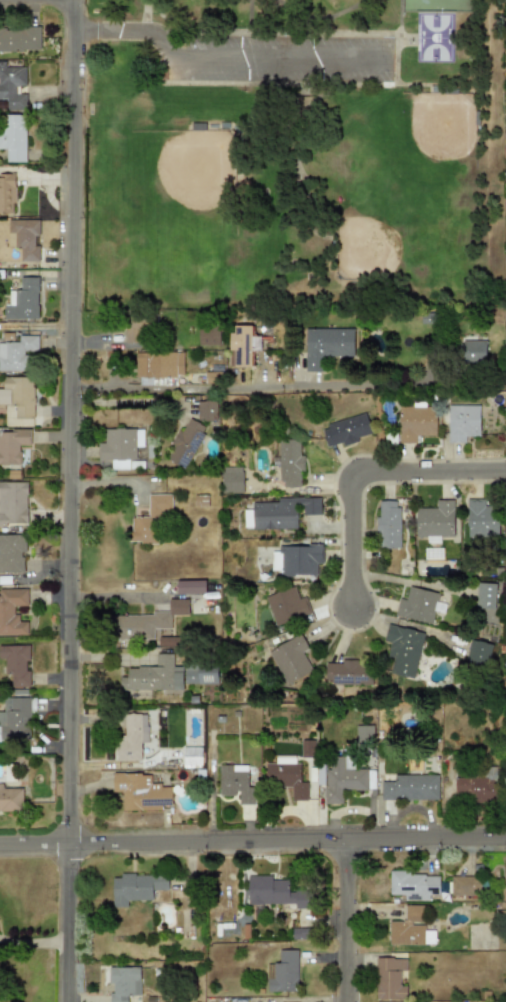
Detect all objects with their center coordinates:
road: (292, 5)
road: (145, 10)
road: (321, 18)
road: (271, 35)
building: (19, 39)
road: (218, 56)
road: (400, 75)
building: (12, 86)
road: (271, 86)
building: (13, 137)
park: (295, 160)
building: (6, 193)
building: (24, 238)
building: (23, 300)
building: (132, 326)
building: (208, 335)
building: (243, 344)
building: (326, 346)
building: (473, 351)
building: (16, 353)
building: (159, 364)
road: (234, 387)
building: (18, 395)
building: (205, 410)
building: (462, 422)
building: (415, 423)
building: (344, 430)
building: (185, 443)
building: (12, 446)
building: (120, 446)
building: (288, 463)
road: (362, 478)
building: (232, 480)
road: (74, 500)
building: (200, 500)
building: (13, 503)
building: (279, 512)
building: (480, 519)
building: (150, 520)
building: (435, 520)
building: (387, 524)
building: (12, 553)
building: (295, 560)
building: (191, 586)
building: (485, 596)
building: (286, 605)
building: (419, 605)
building: (12, 611)
building: (147, 622)
building: (403, 649)
building: (478, 652)
building: (290, 659)
building: (15, 664)
building: (348, 672)
building: (168, 675)
building: (14, 717)
building: (134, 736)
building: (306, 748)
building: (192, 757)
building: (286, 776)
building: (235, 781)
building: (410, 787)
building: (475, 789)
building: (141, 792)
building: (10, 799)
road: (253, 842)
building: (413, 885)
building: (464, 886)
building: (136, 887)
building: (272, 892)
road: (350, 922)
building: (407, 928)
road: (35, 942)
building: (283, 972)
building: (389, 978)
building: (123, 983)

